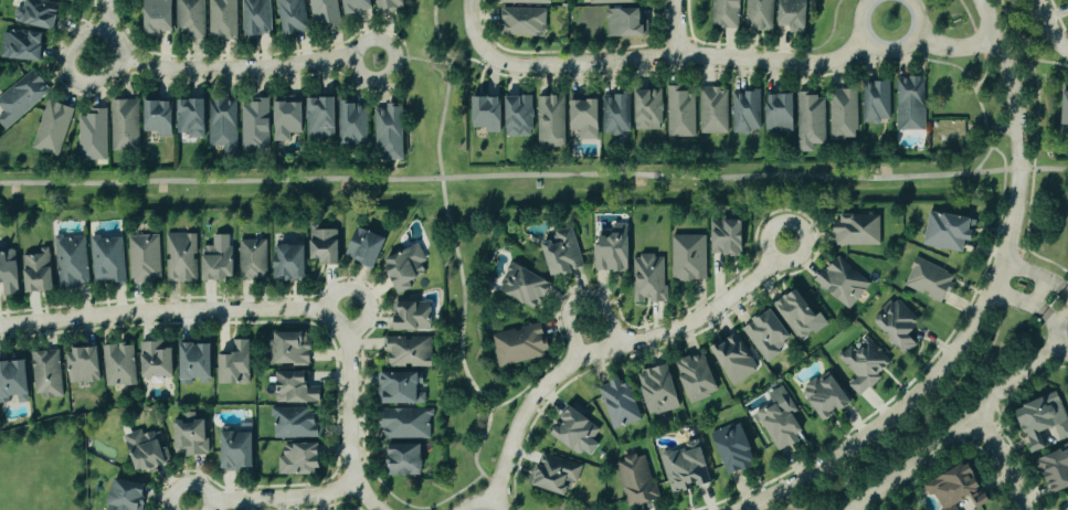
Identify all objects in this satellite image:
building: (72, 0)
building: (527, 2)
building: (611, 2)
building: (388, 6)
building: (357, 7)
building: (324, 13)
building: (726, 13)
building: (38, 14)
building: (759, 15)
building: (794, 15)
building: (158, 17)
building: (292, 17)
building: (190, 19)
building: (256, 19)
building: (222, 20)
building: (524, 22)
road: (473, 24)
building: (625, 24)
road: (1050, 26)
road: (675, 28)
building: (22, 46)
road: (955, 47)
road: (889, 52)
road: (673, 55)
road: (221, 68)
road: (71, 76)
road: (445, 87)
building: (21, 98)
building: (876, 103)
building: (910, 105)
building: (649, 110)
building: (713, 111)
building: (781, 111)
building: (747, 113)
building: (1066, 113)
building: (680, 114)
building: (488, 115)
building: (616, 115)
building: (844, 115)
building: (519, 117)
building: (160, 118)
building: (192, 118)
building: (288, 118)
building: (321, 118)
building: (585, 118)
building: (811, 121)
building: (551, 123)
building: (353, 124)
building: (224, 125)
building: (125, 126)
building: (256, 126)
building: (53, 128)
building: (389, 134)
building: (93, 137)
road: (533, 177)
building: (858, 230)
building: (948, 231)
building: (727, 236)
building: (326, 245)
building: (366, 246)
building: (613, 248)
building: (563, 253)
building: (181, 257)
building: (689, 257)
building: (144, 258)
building: (219, 258)
building: (107, 259)
building: (253, 259)
building: (72, 261)
building: (290, 262)
building: (406, 267)
building: (9, 272)
building: (39, 272)
road: (1035, 275)
building: (649, 278)
building: (929, 279)
building: (843, 281)
building: (525, 285)
road: (1065, 293)
road: (583, 298)
road: (1021, 302)
road: (987, 306)
road: (278, 311)
building: (799, 314)
building: (413, 316)
road: (1054, 318)
building: (898, 325)
road: (1060, 331)
building: (768, 333)
building: (520, 343)
building: (292, 348)
road: (613, 349)
building: (409, 351)
building: (733, 359)
building: (195, 362)
building: (236, 362)
building: (119, 364)
building: (84, 365)
building: (864, 365)
building: (46, 373)
building: (697, 376)
building: (14, 380)
building: (296, 387)
building: (400, 387)
building: (659, 390)
building: (826, 395)
building: (618, 403)
building: (780, 419)
building: (1045, 421)
building: (295, 423)
building: (405, 423)
road: (960, 427)
building: (575, 431)
building: (190, 435)
building: (734, 447)
building: (147, 449)
building: (237, 450)
building: (299, 459)
building: (404, 459)
road: (1003, 459)
park: (43, 465)
building: (686, 467)
building: (1056, 468)
building: (556, 474)
building: (636, 480)
building: (958, 488)
building: (127, 496)
road: (275, 500)
road: (482, 502)

